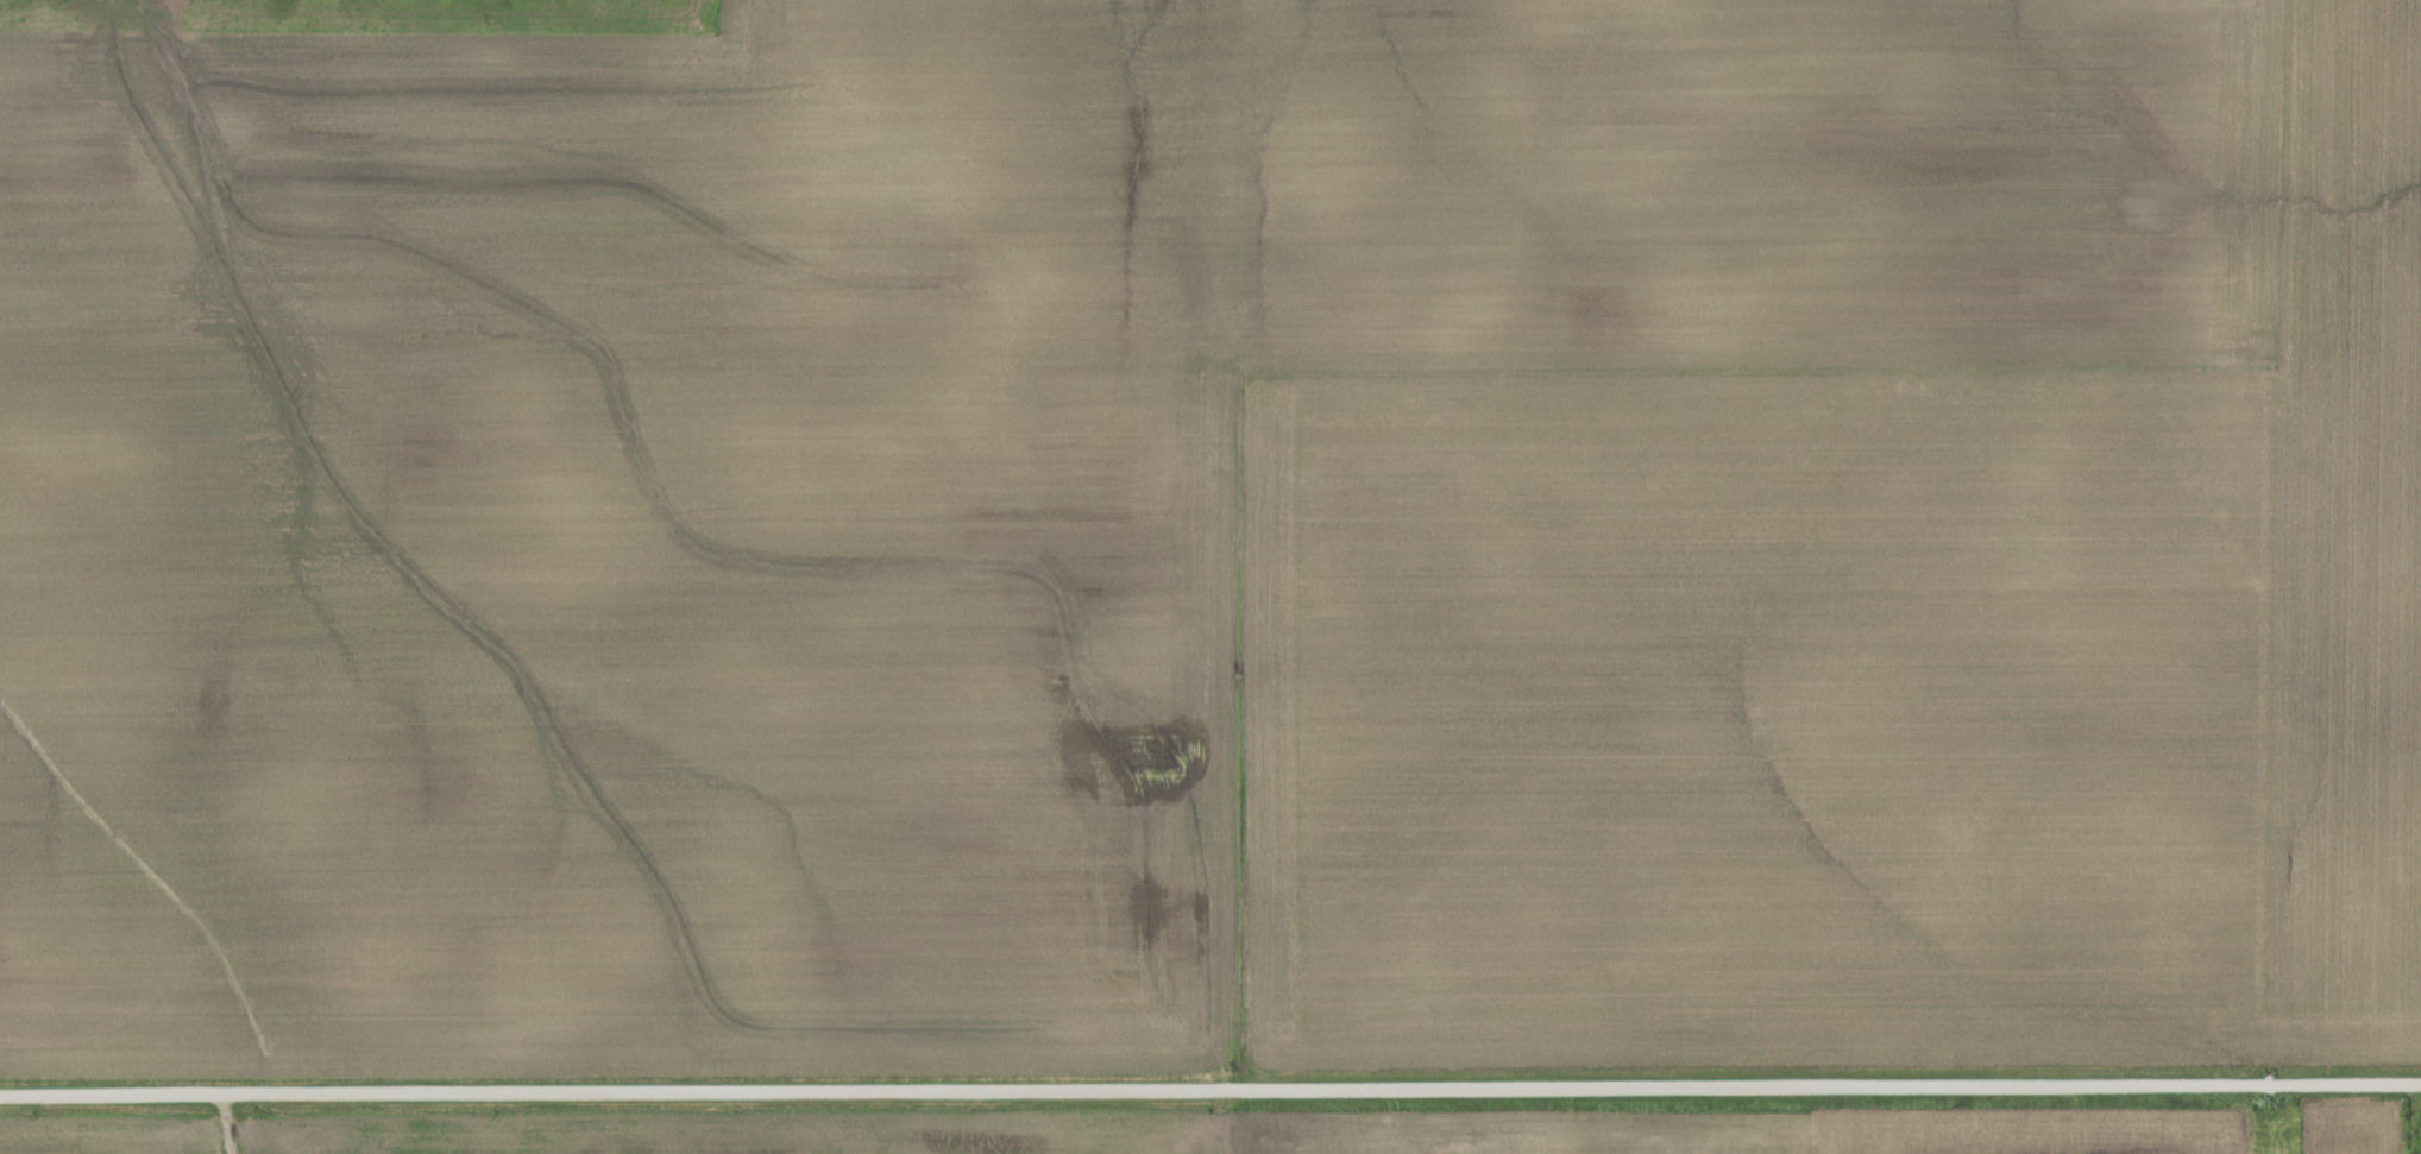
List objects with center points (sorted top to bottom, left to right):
road: (1210, 1087)

